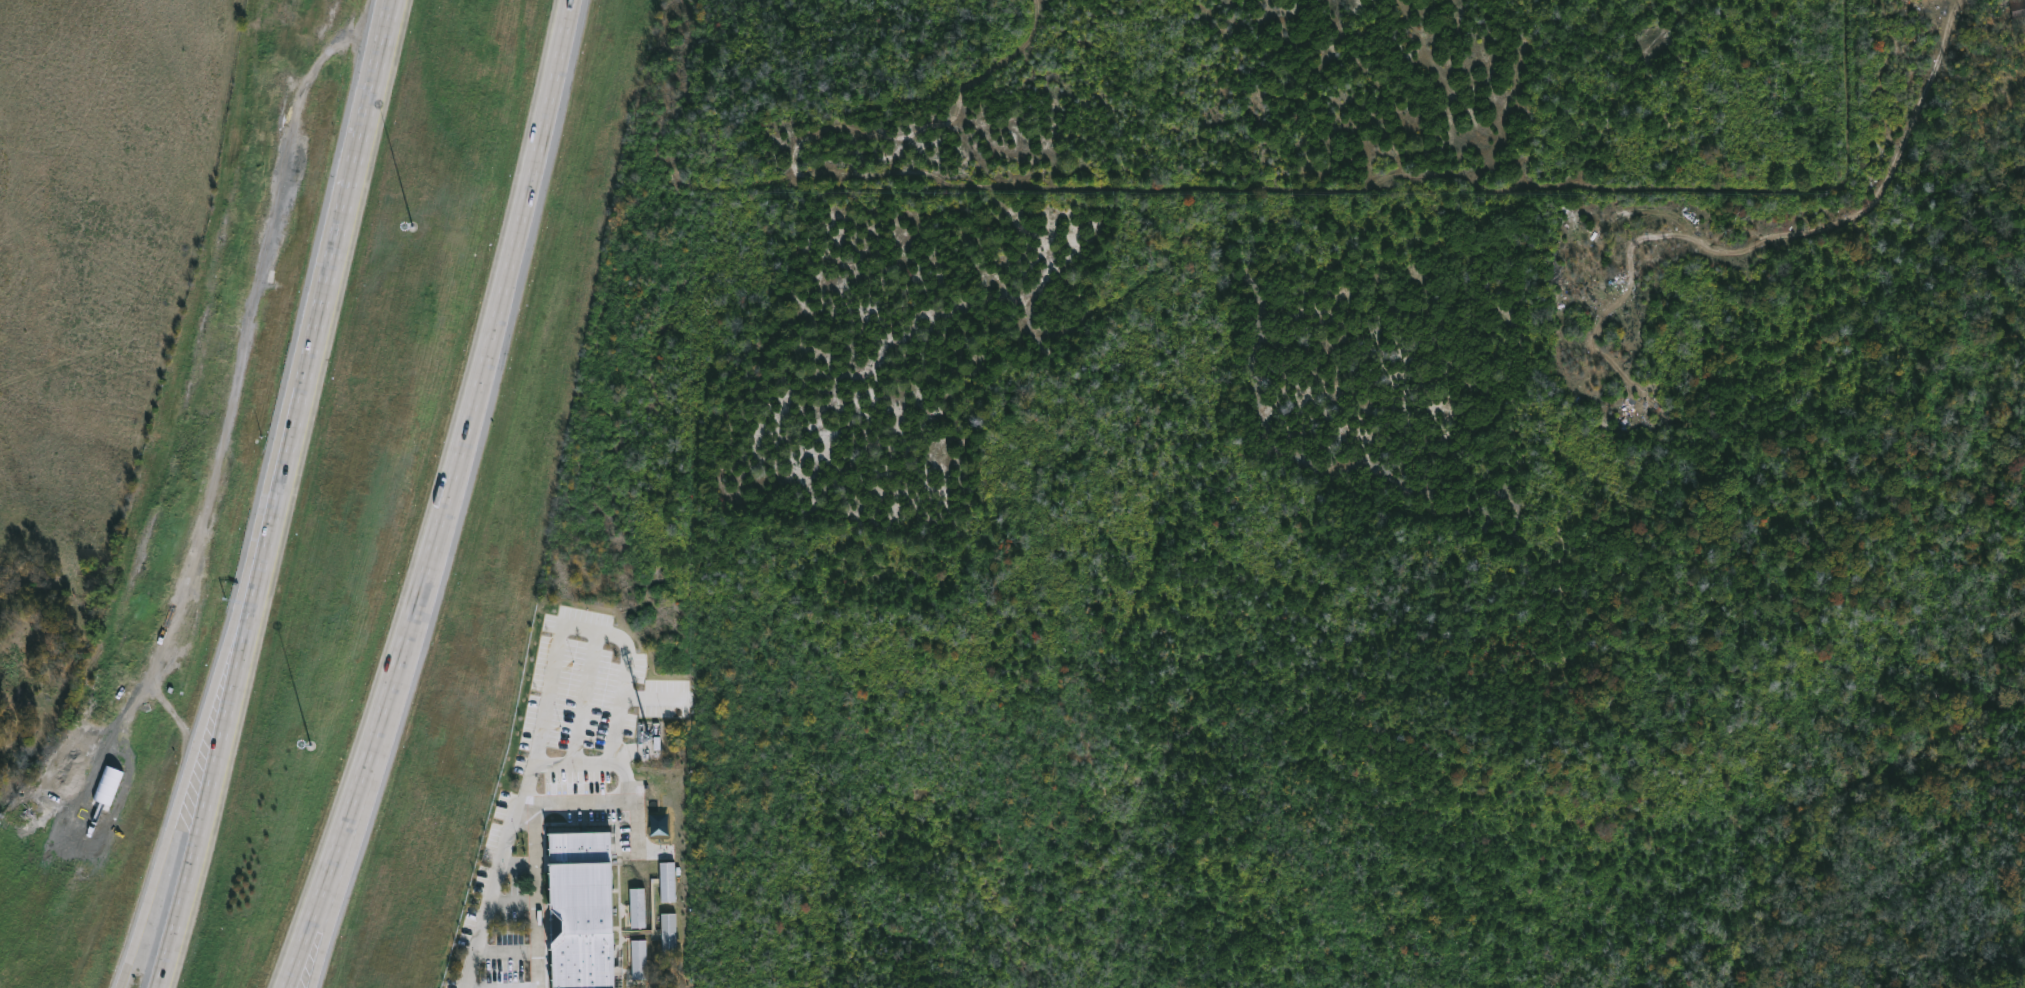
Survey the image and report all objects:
building: (2009, 12)
street lamp: (412, 225)
road: (511, 250)
road: (321, 313)
road: (605, 632)
road: (227, 668)
road: (652, 698)
road: (369, 745)
street lamp: (309, 746)
road: (205, 807)
road: (535, 826)
road: (162, 849)
building: (668, 881)
road: (494, 889)
building: (638, 908)
building: (587, 909)
building: (669, 932)
road: (306, 956)
building: (639, 959)

